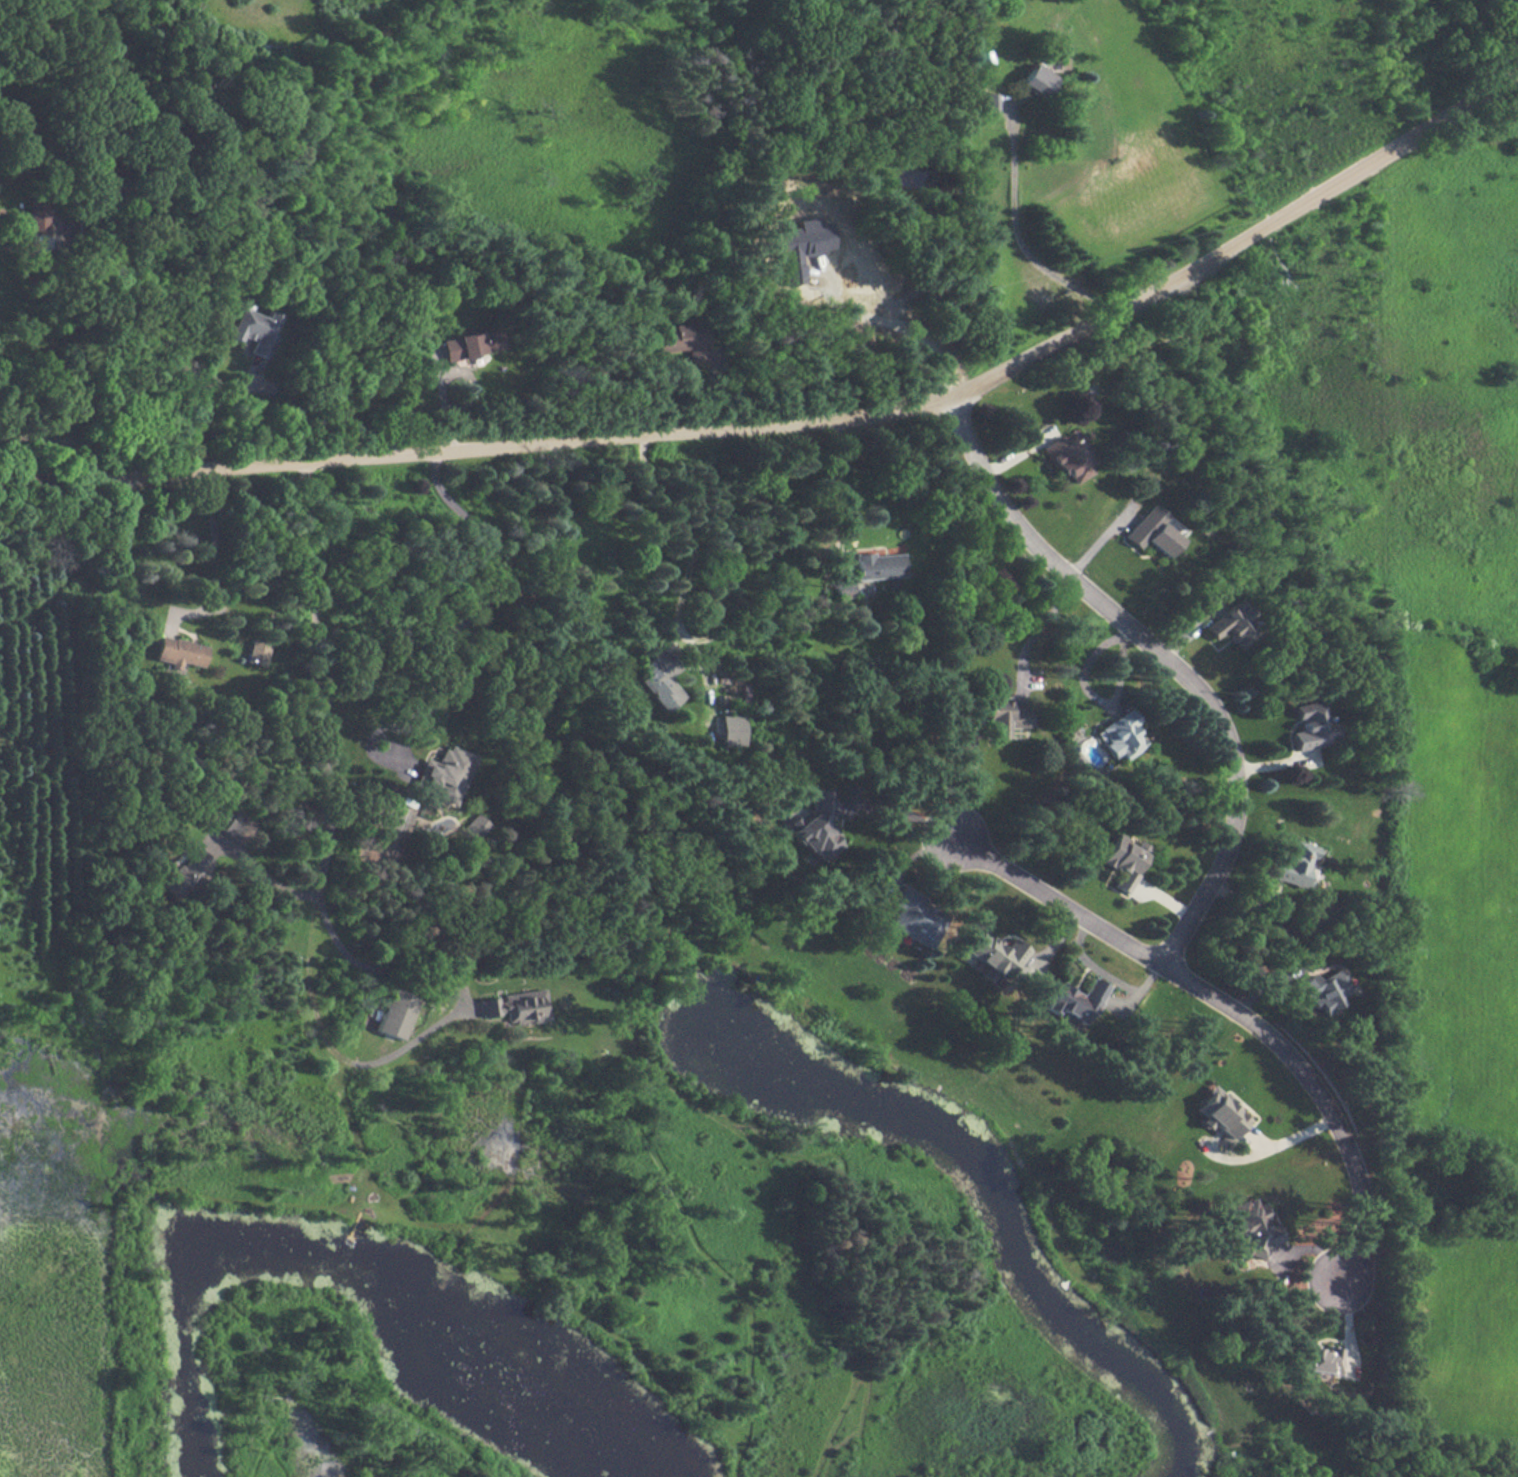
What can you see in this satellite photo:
building: (1037, 80)
building: (989, 104)
building: (36, 216)
road: (1018, 232)
building: (799, 248)
road: (895, 326)
building: (255, 330)
building: (683, 340)
building: (468, 344)
road: (84, 372)
road: (859, 411)
road: (199, 414)
road: (46, 440)
building: (1068, 458)
road: (836, 483)
building: (1150, 531)
road: (217, 557)
building: (843, 587)
road: (500, 594)
building: (1229, 624)
road: (1038, 632)
building: (180, 652)
building: (257, 652)
road: (1168, 662)
building: (658, 680)
road: (324, 709)
building: (1006, 717)
building: (1311, 725)
building: (730, 730)
building: (1121, 735)
building: (965, 752)
building: (446, 774)
building: (234, 821)
building: (816, 825)
building: (477, 826)
building: (1124, 859)
building: (1294, 865)
building: (188, 875)
road: (273, 882)
building: (913, 917)
building: (994, 954)
road: (1103, 974)
building: (1322, 990)
building: (1073, 1000)
building: (517, 1006)
road: (1231, 1007)
building: (397, 1013)
building: (1221, 1112)
road: (1288, 1139)
building: (1249, 1229)
building: (1320, 1359)

